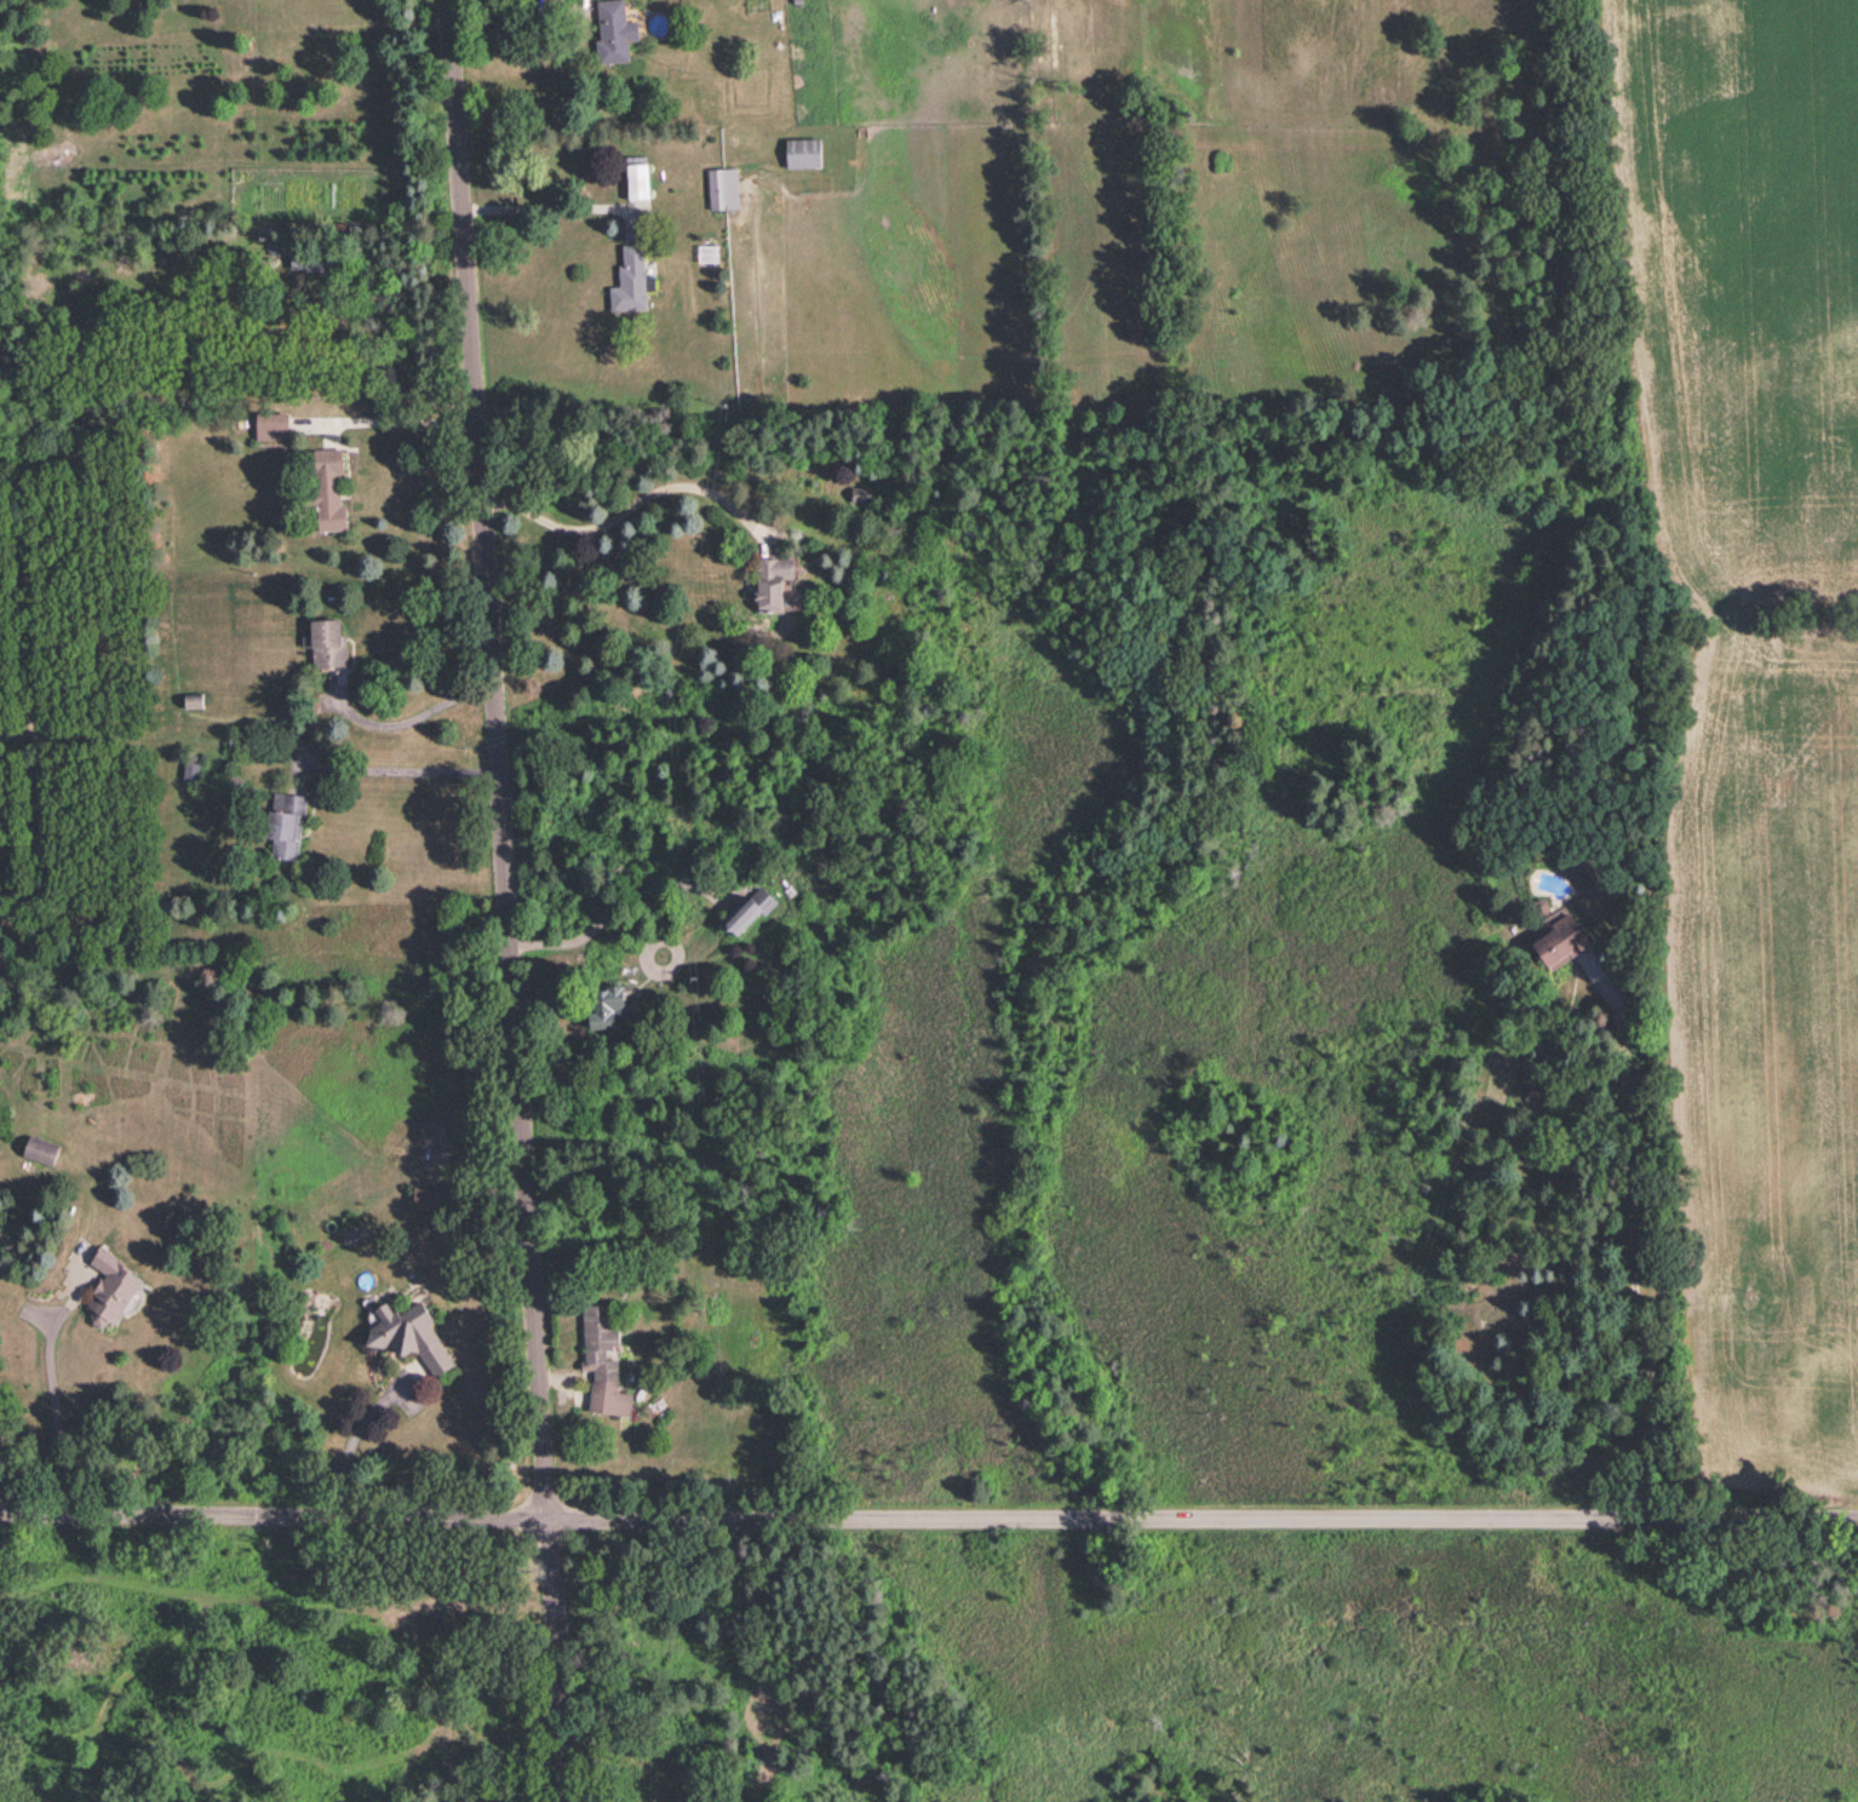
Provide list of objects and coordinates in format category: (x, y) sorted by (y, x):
road: (517, 17)
building: (613, 31)
building: (802, 151)
building: (637, 180)
building: (722, 186)
road: (554, 208)
building: (306, 258)
building: (629, 279)
crop: (1741, 279)
road: (389, 419)
building: (271, 425)
building: (327, 488)
building: (859, 492)
road: (631, 509)
building: (772, 580)
building: (327, 642)
building: (193, 699)
road: (413, 717)
building: (190, 769)
building: (285, 822)
building: (1588, 873)
road: (512, 900)
building: (750, 908)
building: (1560, 940)
building: (608, 1004)
crop: (1776, 1061)
building: (40, 1148)
building: (425, 1194)
road: (1628, 1253)
building: (111, 1287)
building: (409, 1333)
building: (602, 1360)
road: (52, 1393)
road: (354, 1435)
road: (928, 1516)

